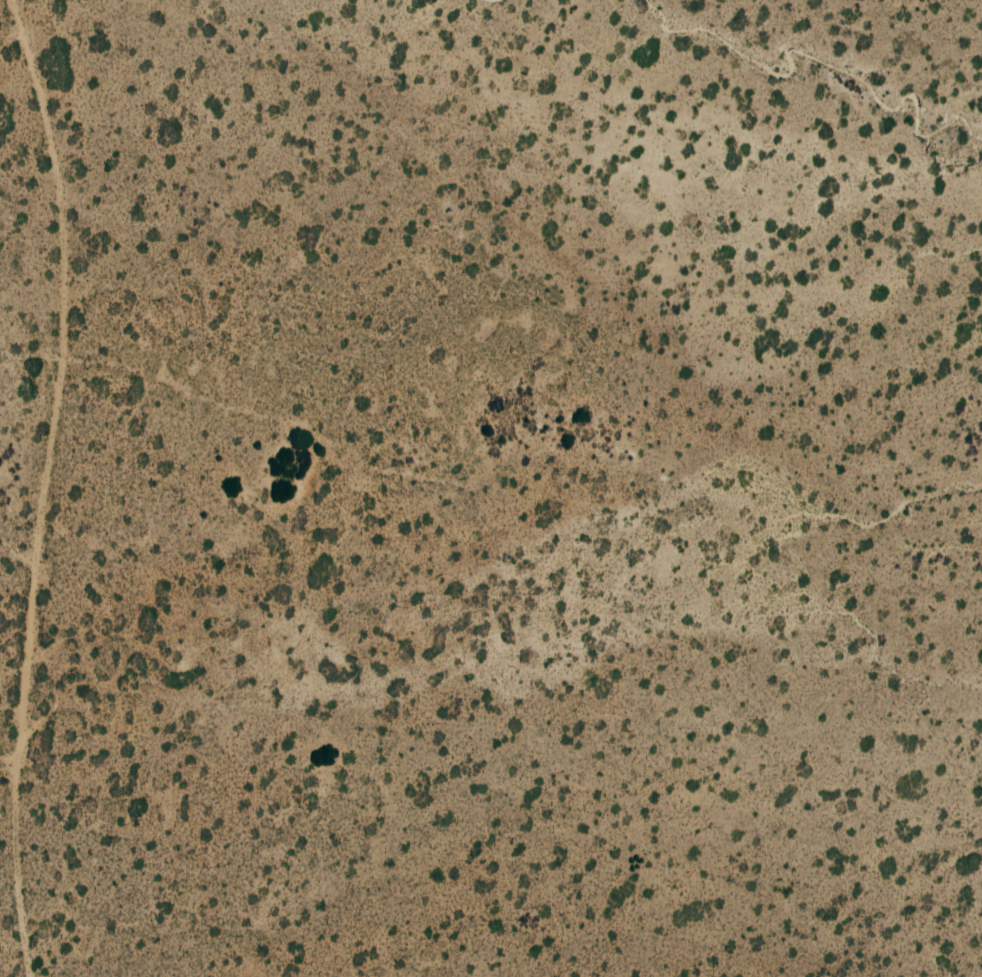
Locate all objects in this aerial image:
road: (52, 475)
road: (26, 968)

